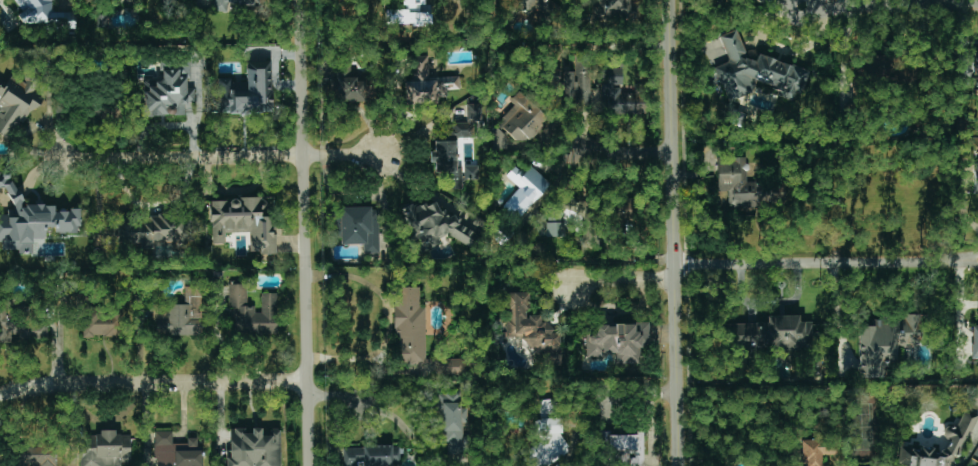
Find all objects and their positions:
road: (892, 3)
building: (253, 5)
building: (536, 8)
building: (614, 10)
building: (45, 14)
building: (412, 18)
building: (976, 61)
building: (889, 68)
building: (756, 72)
building: (573, 80)
building: (427, 84)
building: (350, 86)
building: (248, 90)
building: (169, 91)
building: (616, 95)
building: (15, 104)
building: (522, 119)
road: (626, 151)
building: (977, 154)
road: (340, 155)
road: (182, 156)
building: (450, 156)
building: (471, 172)
building: (976, 178)
building: (740, 184)
building: (524, 190)
building: (31, 220)
building: (243, 223)
building: (433, 226)
building: (360, 228)
building: (554, 229)
building: (147, 230)
road: (672, 232)
road: (305, 233)
road: (825, 262)
road: (619, 278)
road: (959, 291)
building: (253, 313)
building: (184, 315)
road: (389, 320)
building: (18, 324)
building: (99, 324)
building: (410, 326)
building: (530, 328)
building: (770, 334)
building: (974, 340)
building: (617, 341)
building: (883, 342)
building: (452, 365)
road: (153, 381)
road: (639, 394)
road: (331, 395)
building: (452, 423)
building: (548, 441)
building: (941, 445)
building: (254, 447)
building: (105, 449)
building: (176, 451)
building: (816, 451)
building: (36, 454)
building: (371, 456)

